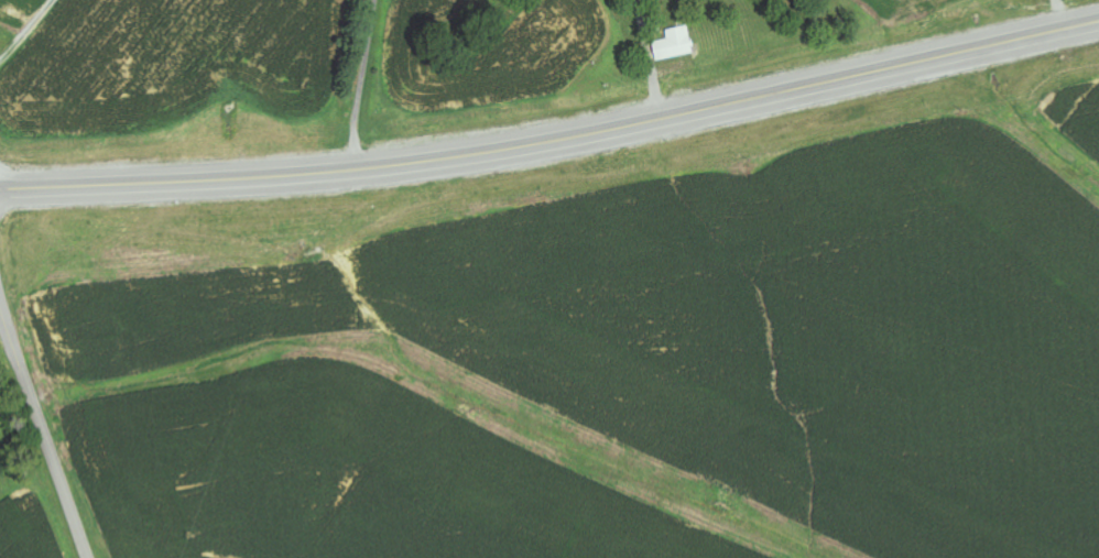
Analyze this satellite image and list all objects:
road: (30, 39)
building: (677, 45)
road: (554, 140)
road: (43, 424)

